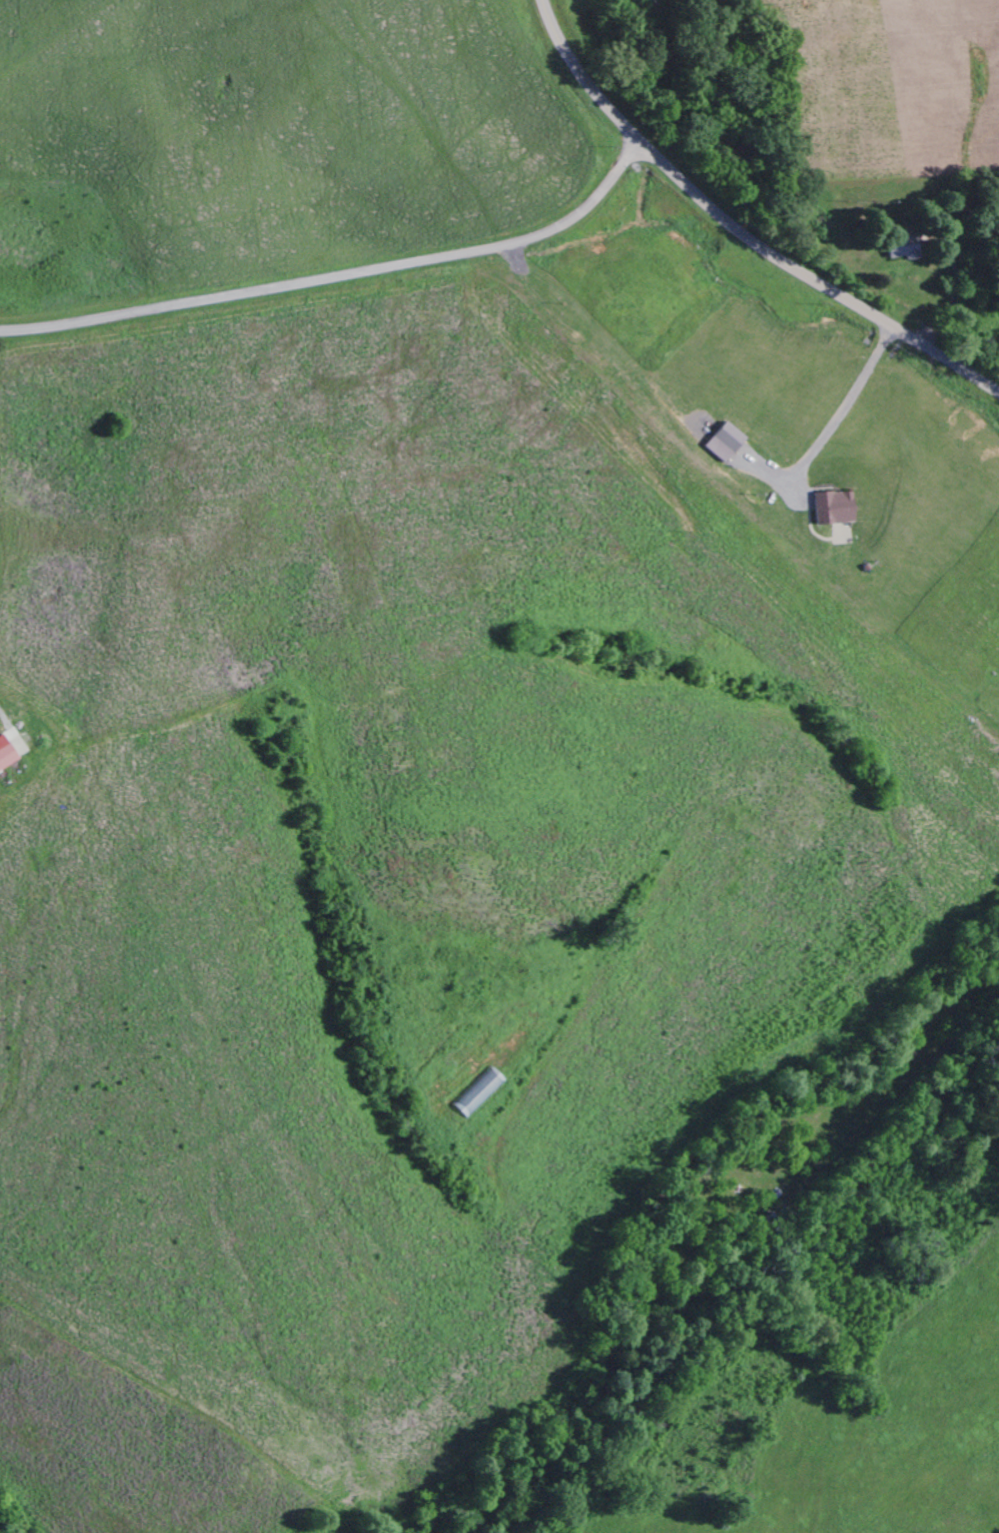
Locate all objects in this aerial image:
road: (740, 228)
building: (900, 248)
road: (340, 275)
building: (718, 442)
building: (827, 508)
building: (5, 754)
building: (477, 1092)

